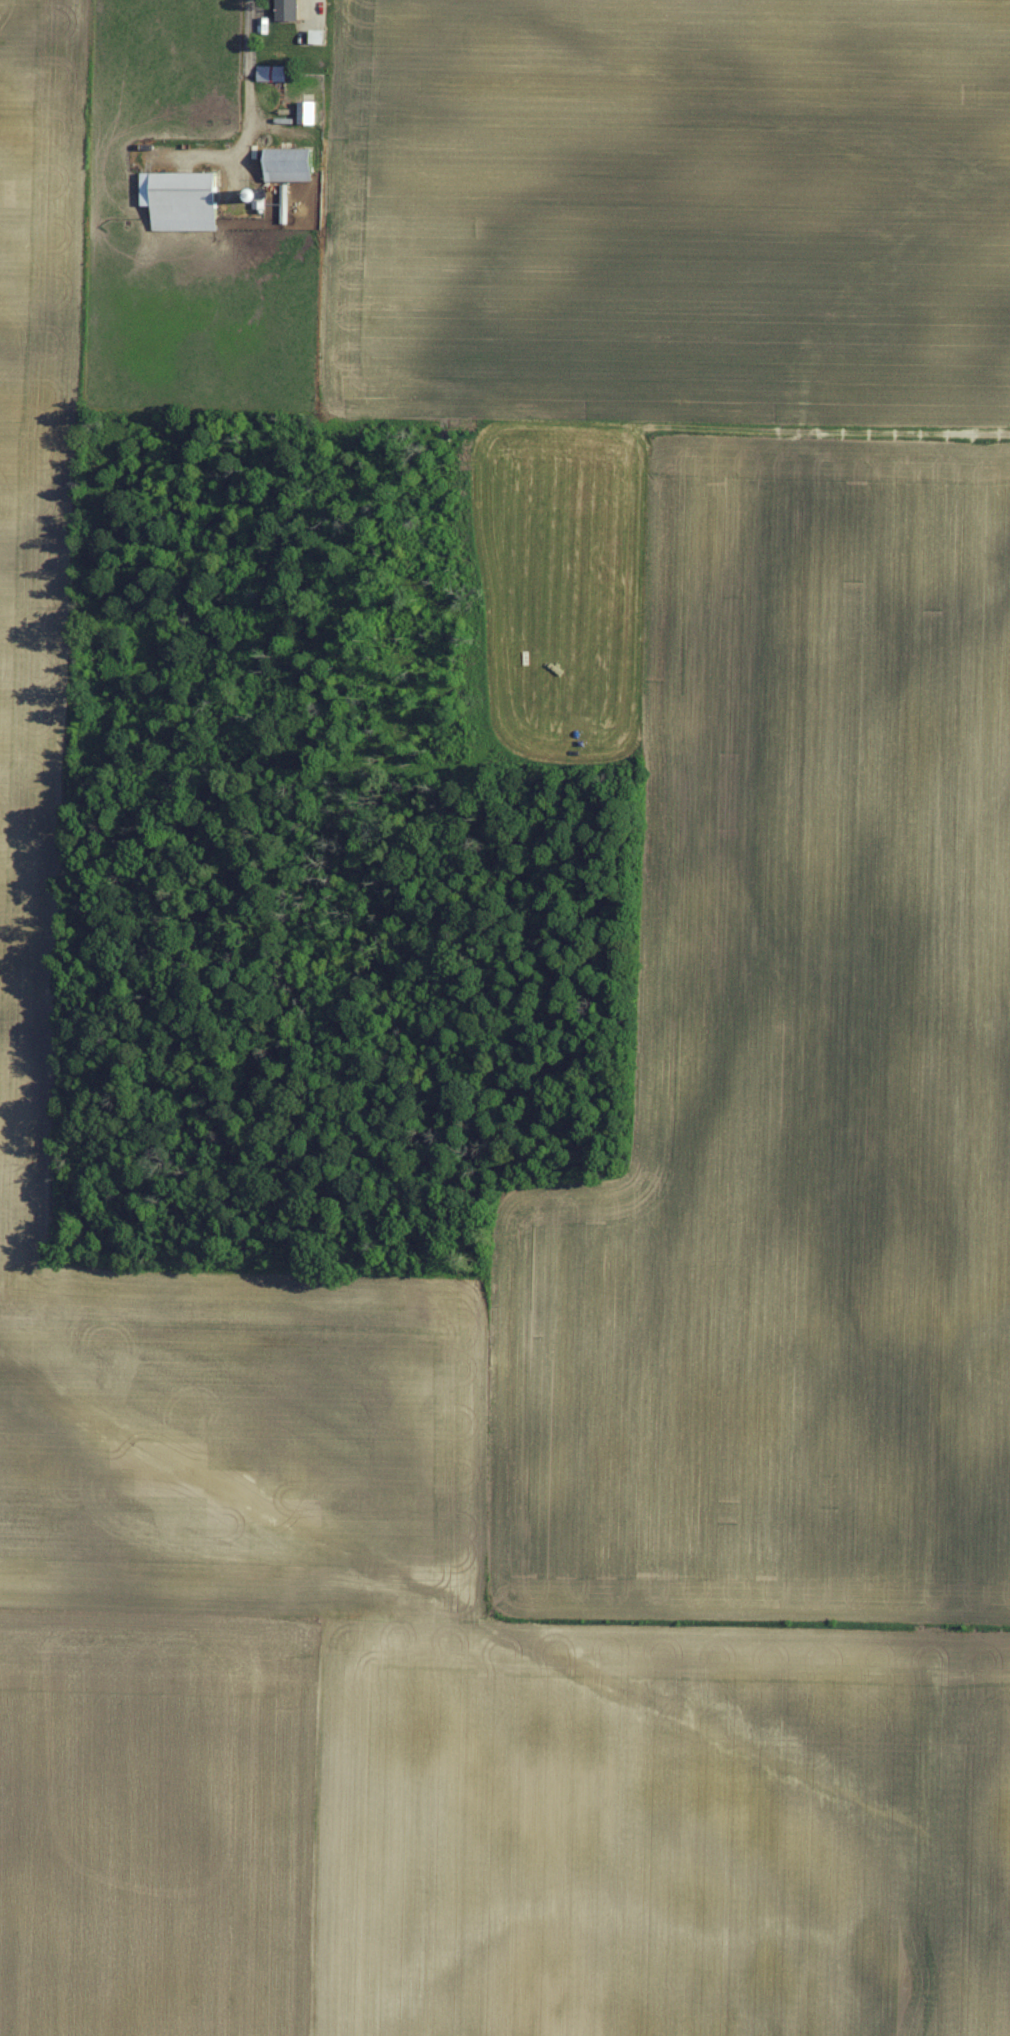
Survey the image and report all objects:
road: (247, 107)
road: (278, 134)

